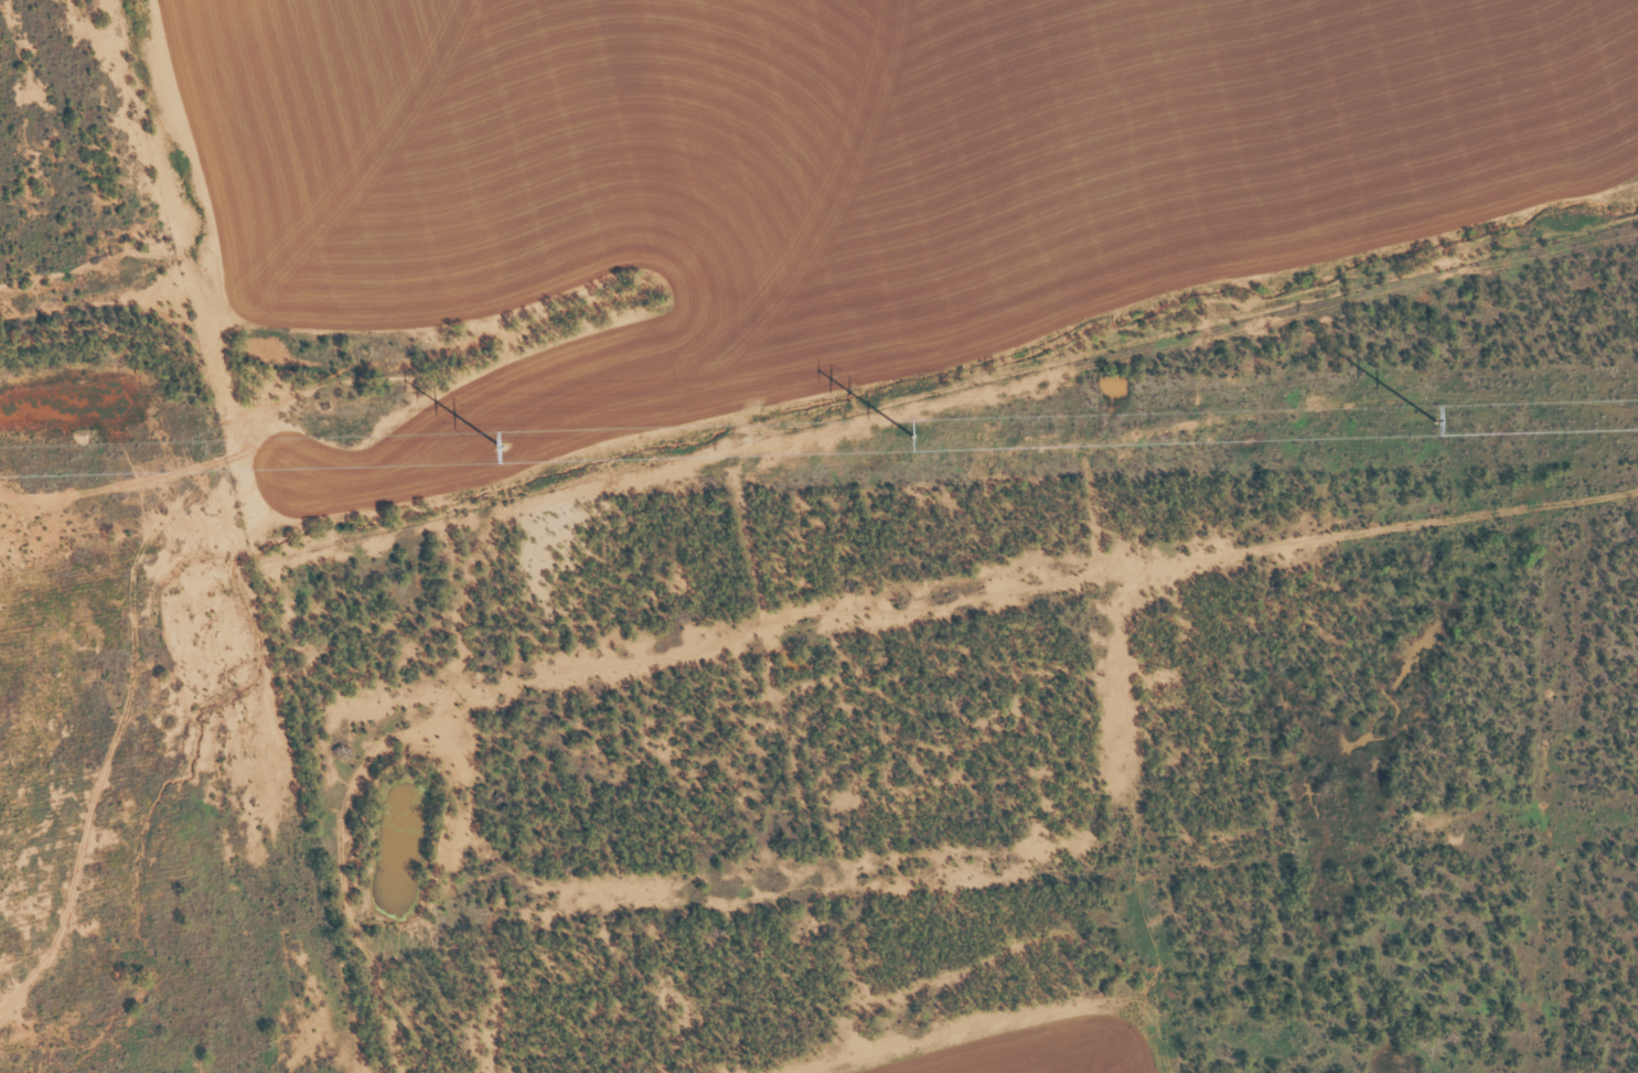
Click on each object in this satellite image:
power tower: (1436, 421)
power tower: (913, 436)
power tower: (502, 447)
road: (745, 537)

